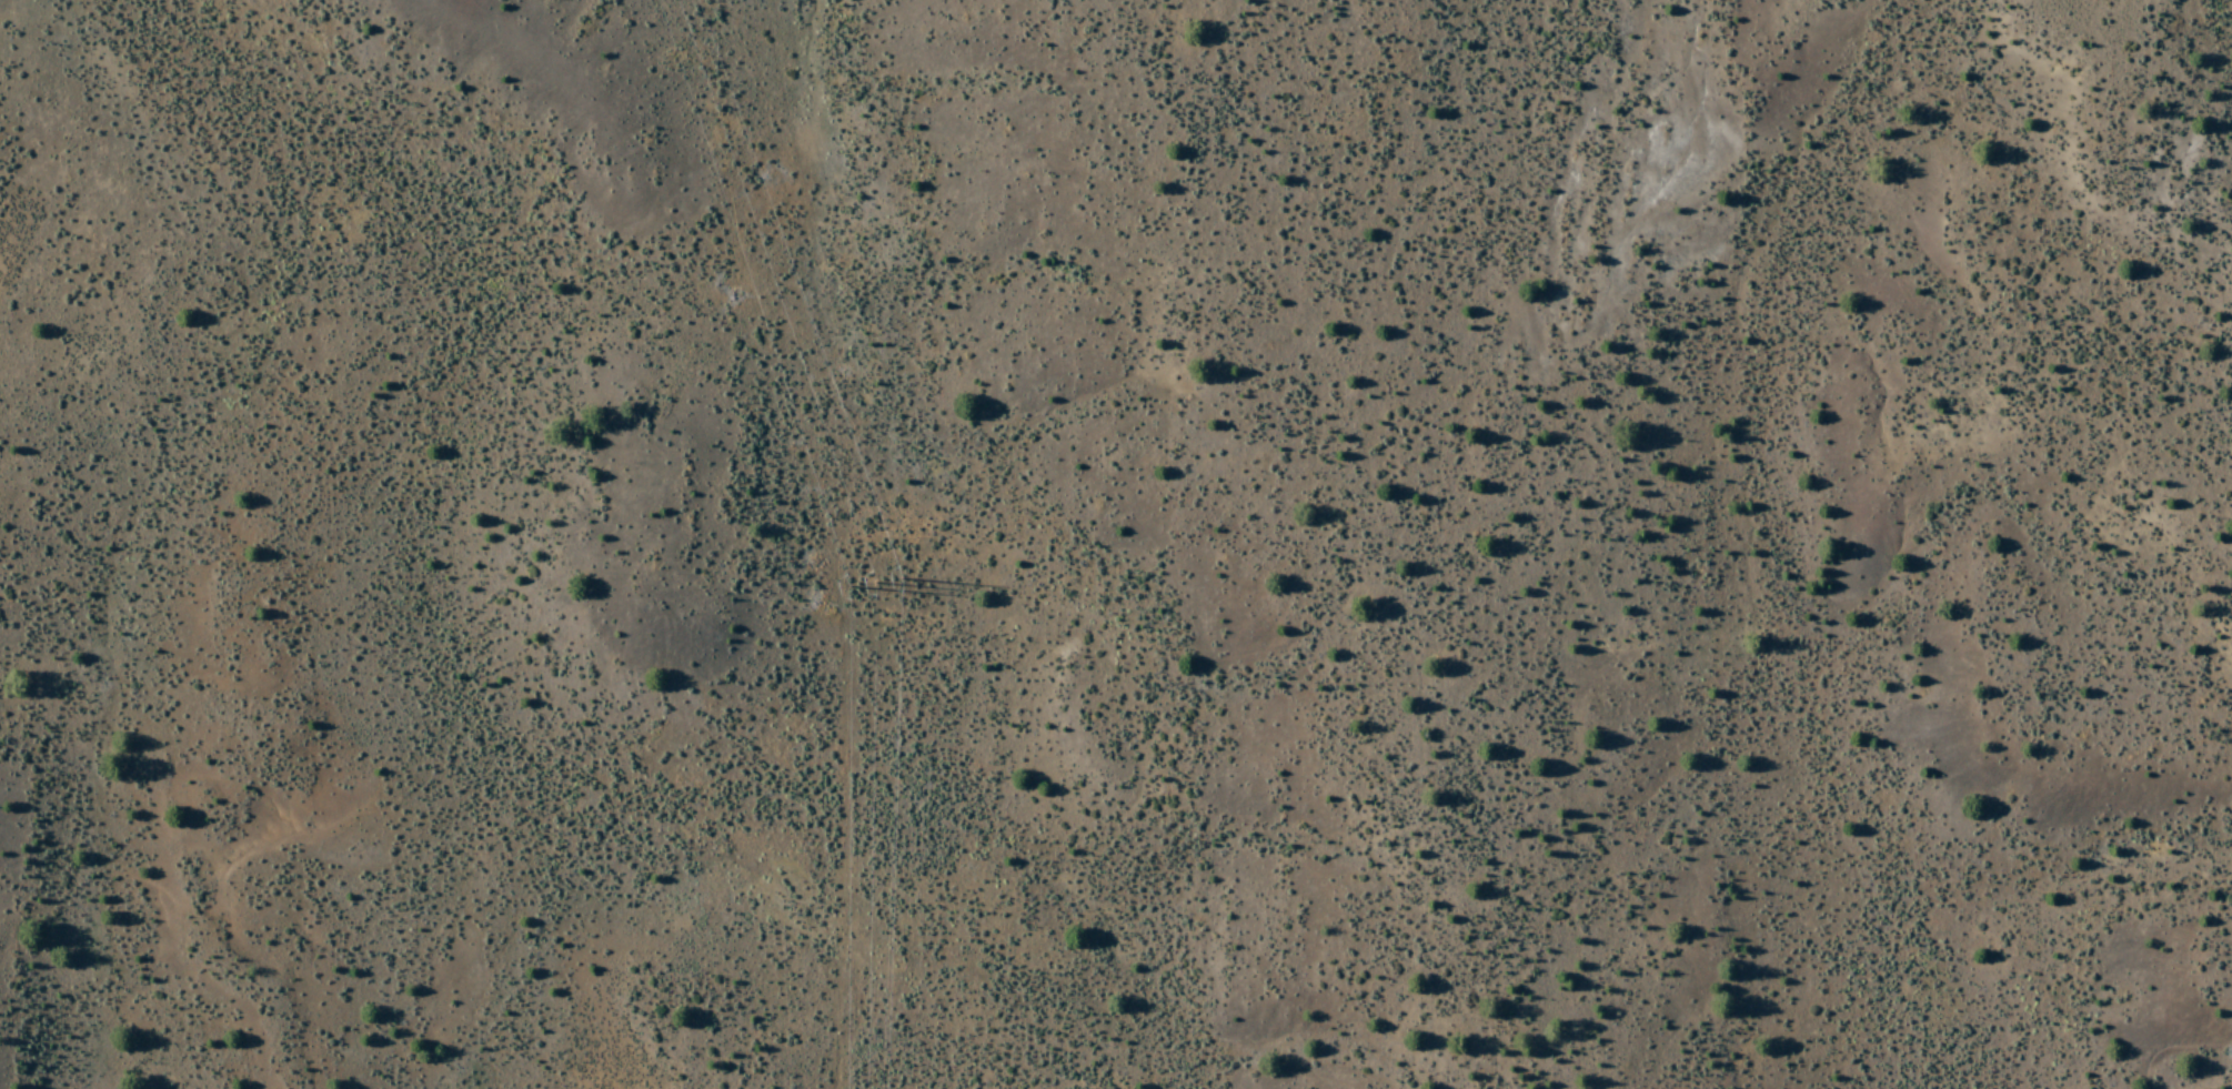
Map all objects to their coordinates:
power tower: (877, 586)

